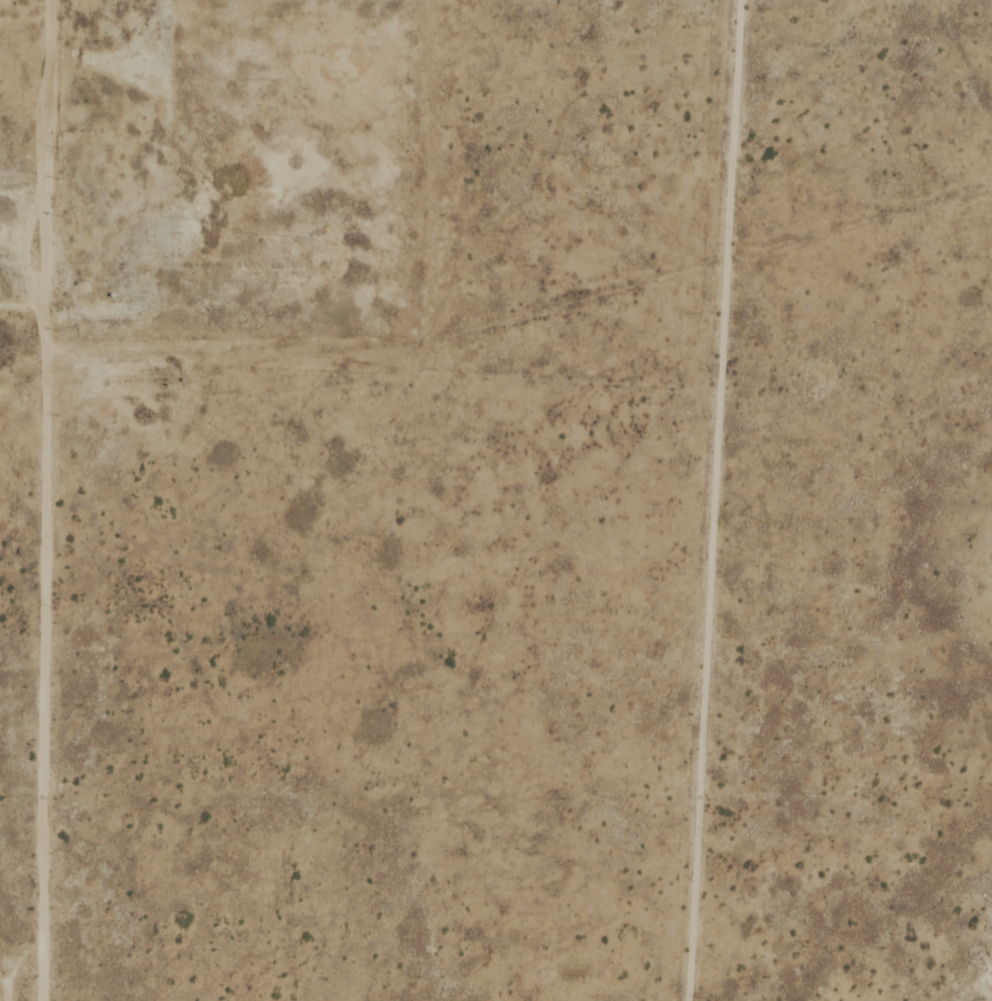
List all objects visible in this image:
road: (36, 500)

